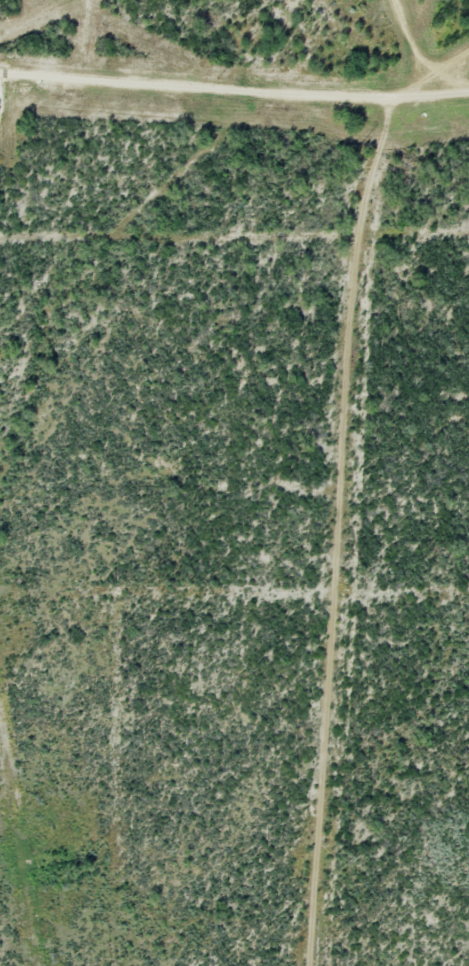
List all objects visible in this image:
road: (404, 52)
road: (440, 57)
road: (234, 99)

